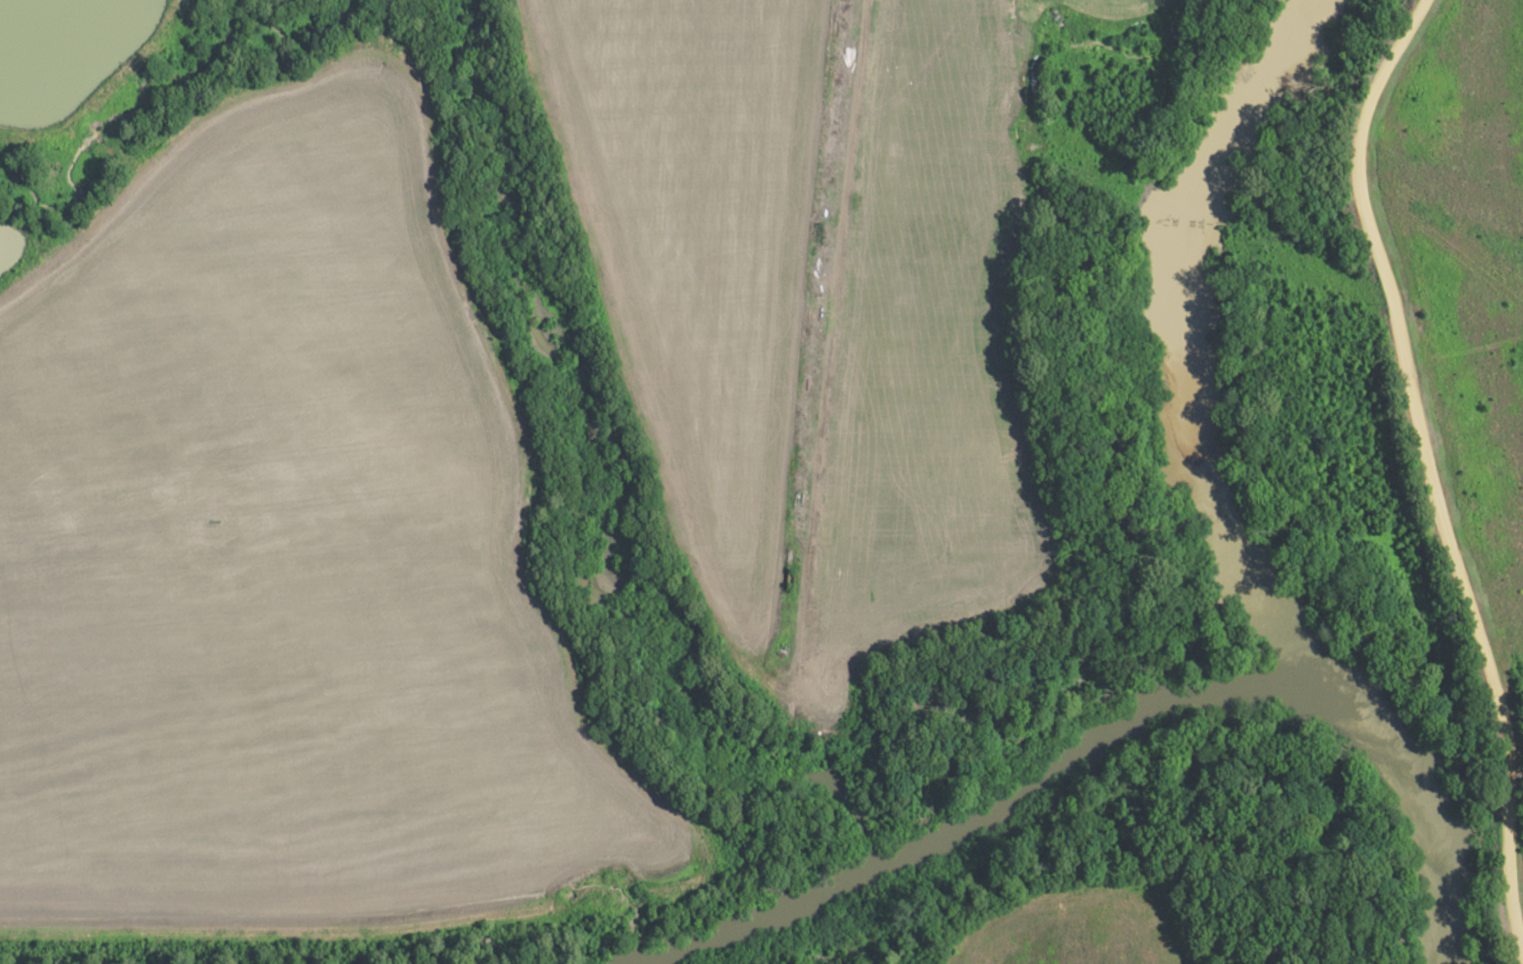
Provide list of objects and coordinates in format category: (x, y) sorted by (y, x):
road: (1425, 476)
river: (1210, 502)

